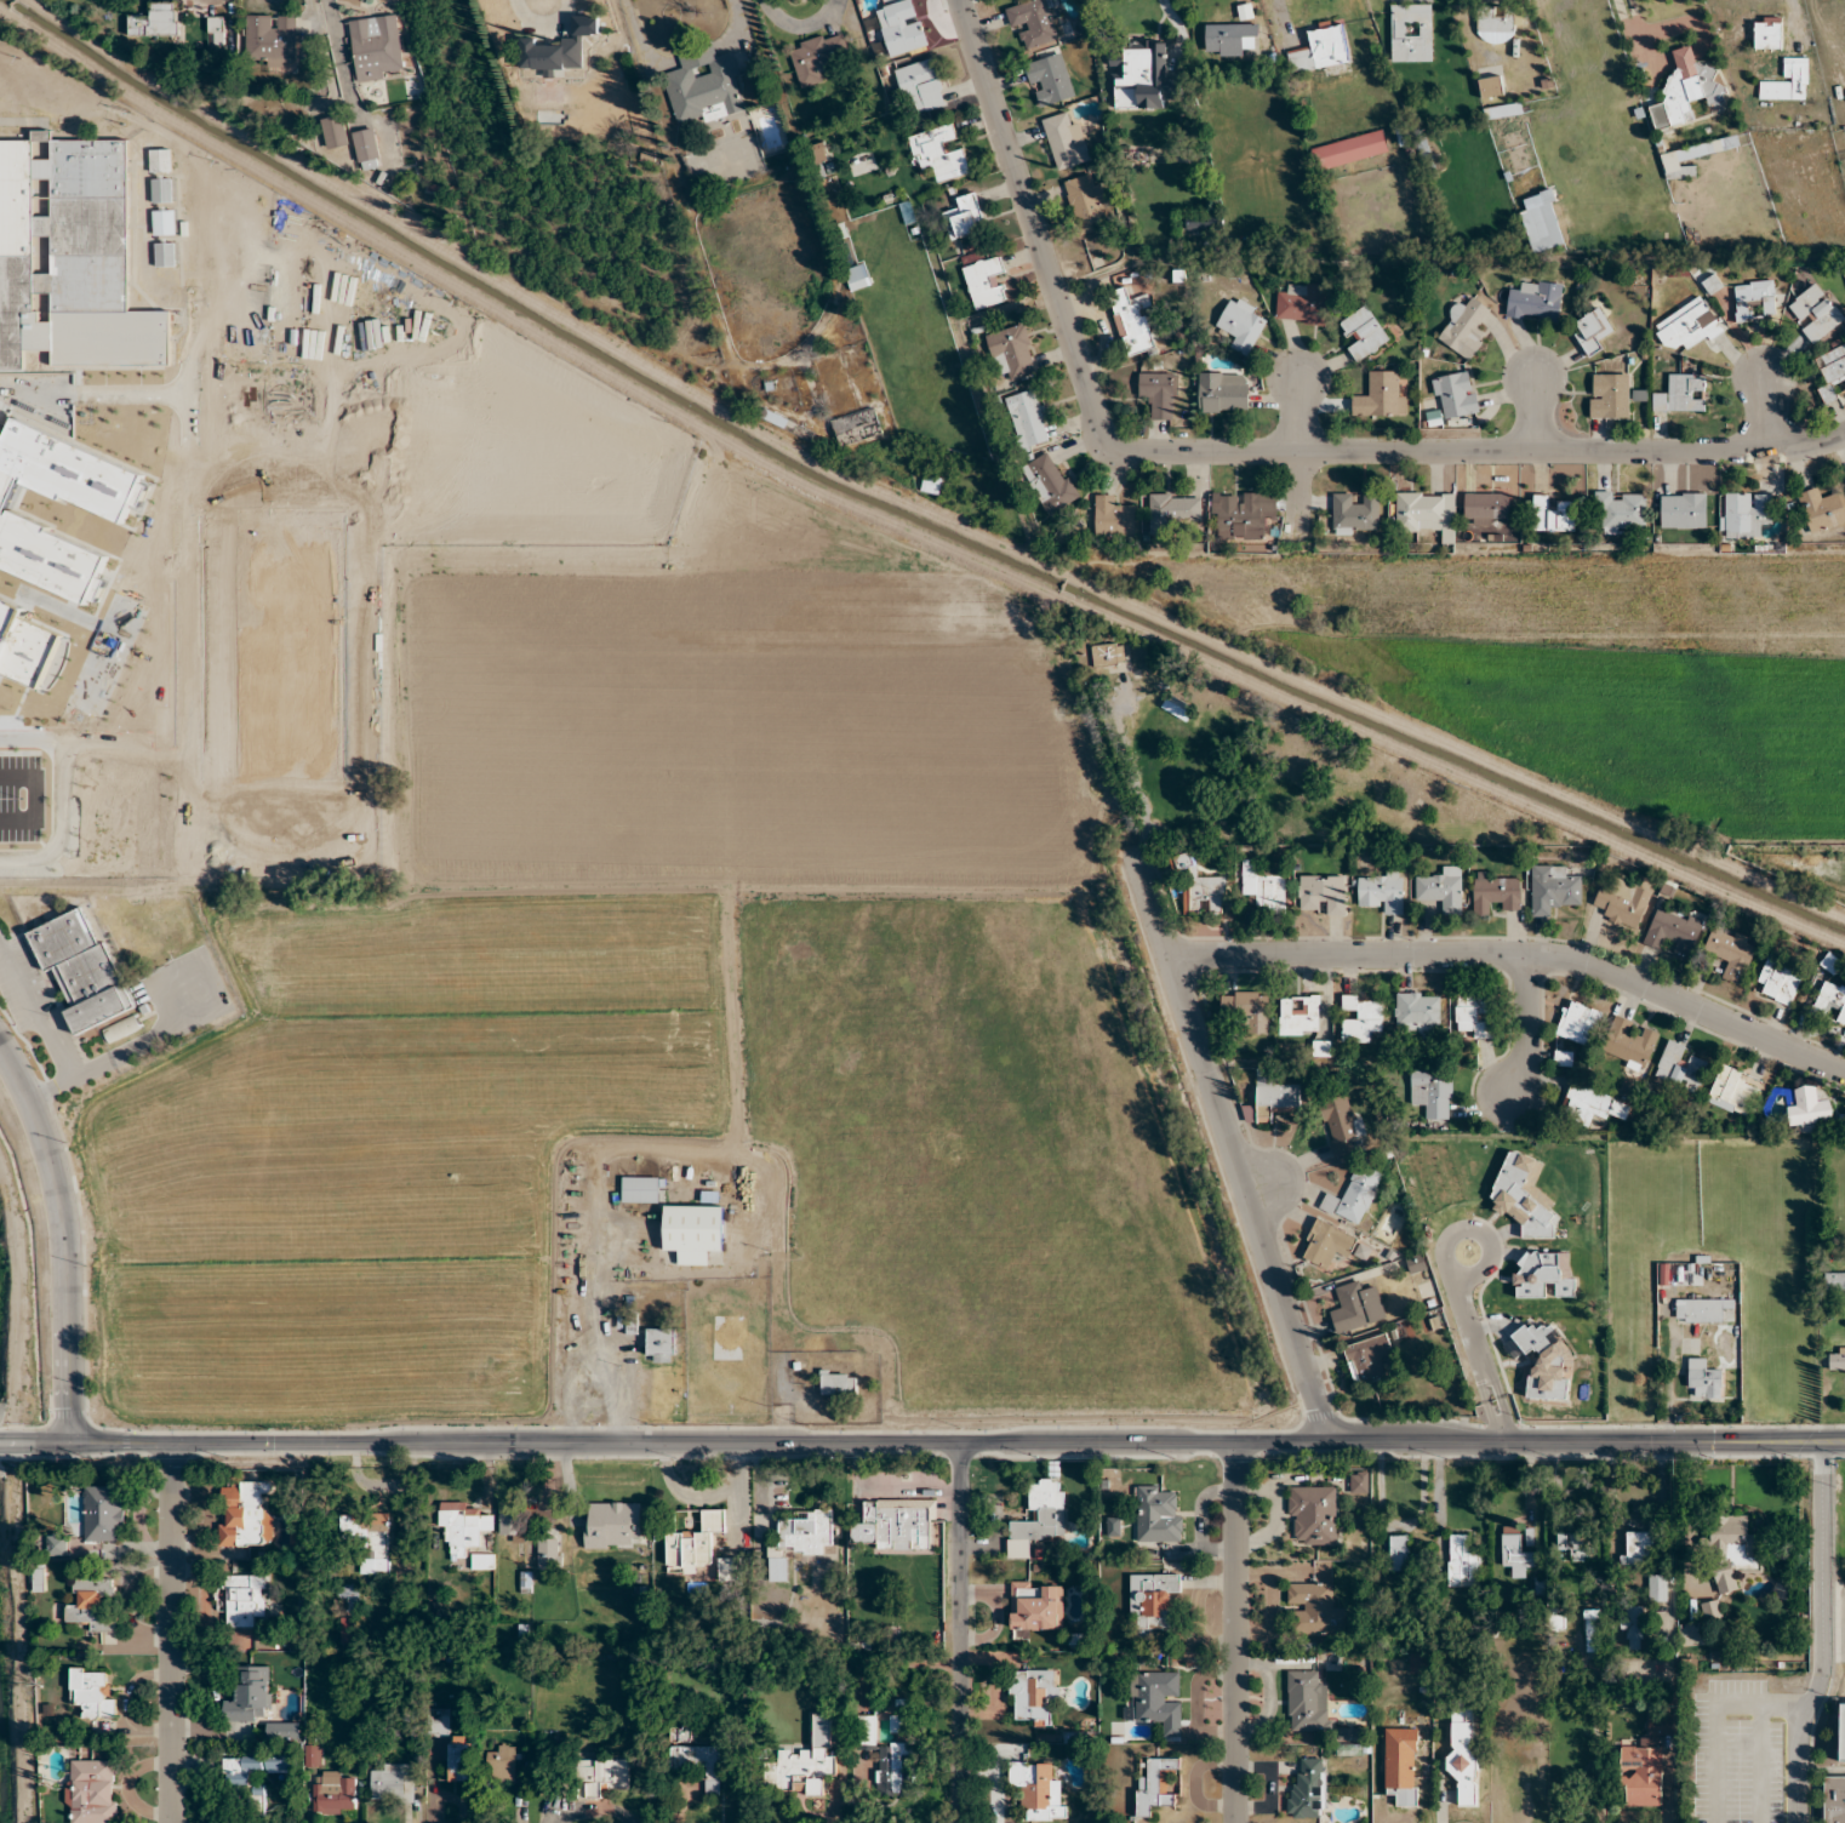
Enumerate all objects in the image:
building: (155, 21)
building: (1034, 22)
building: (1495, 24)
building: (216, 29)
building: (899, 30)
building: (1411, 33)
building: (1767, 33)
building: (270, 39)
building: (1229, 39)
road: (1636, 45)
building: (376, 47)
building: (559, 48)
building: (1320, 48)
building: (818, 52)
building: (1142, 75)
building: (1050, 79)
building: (1787, 82)
building: (704, 85)
building: (921, 85)
building: (1689, 85)
building: (1491, 87)
building: (1504, 110)
building: (335, 132)
building: (1403, 133)
building: (1066, 141)
building: (366, 149)
building: (1349, 150)
building: (821, 153)
building: (939, 153)
building: (160, 160)
building: (1686, 160)
building: (221, 188)
building: (190, 189)
building: (161, 190)
building: (1086, 202)
building: (967, 217)
building: (193, 221)
building: (222, 221)
building: (1204, 221)
building: (164, 222)
building: (1541, 223)
building: (193, 253)
building: (165, 255)
building: (70, 257)
building: (857, 276)
building: (986, 284)
building: (1712, 284)
building: (1754, 299)
building: (1535, 301)
building: (1302, 304)
building: (1815, 313)
building: (1132, 321)
building: (1687, 322)
building: (1241, 324)
building: (1464, 327)
building: (1592, 331)
building: (1364, 333)
building: (1012, 352)
building: (1833, 366)
building: (1223, 392)
building: (1160, 394)
building: (1380, 394)
building: (1681, 394)
building: (1455, 395)
building: (1609, 396)
road: (1301, 411)
road: (1761, 411)
road: (1531, 412)
building: (1028, 418)
building: (778, 421)
building: (857, 427)
road: (1243, 451)
park: (161, 465)
park: (199, 465)
park: (234, 465)
park: (269, 467)
building: (1844, 481)
building: (1050, 482)
building: (930, 485)
road: (1300, 495)
road: (912, 508)
building: (1486, 508)
building: (1175, 509)
building: (1821, 509)
building: (1620, 510)
building: (1683, 510)
building: (1420, 512)
building: (1243, 514)
building: (1355, 514)
building: (1553, 514)
building: (1746, 514)
building: (1113, 516)
road: (898, 525)
building: (1108, 655)
building: (1177, 708)
road: (1135, 782)
building: (1263, 887)
building: (1553, 888)
building: (1201, 890)
building: (1441, 890)
building: (1382, 891)
building: (1496, 892)
building: (1321, 895)
building: (1621, 902)
building: (1672, 932)
road: (1516, 953)
building: (1730, 953)
building: (81, 968)
building: (1780, 982)
building: (1832, 1000)
building: (1247, 1010)
building: (1417, 1013)
building: (1300, 1015)
building: (1474, 1015)
building: (1361, 1018)
road: (1524, 1023)
building: (1577, 1023)
building: (120, 1029)
building: (1626, 1044)
building: (1680, 1067)
building: (1732, 1091)
building: (1432, 1093)
building: (1775, 1098)
building: (1270, 1099)
building: (1593, 1104)
building: (1341, 1124)
road: (1230, 1147)
building: (641, 1189)
building: (1524, 1196)
building: (1353, 1198)
road: (1472, 1227)
building: (693, 1233)
road: (67, 1238)
building: (1327, 1245)
building: (1416, 1263)
building: (1543, 1274)
road: (596, 1278)
building: (1834, 1281)
building: (1356, 1307)
building: (1702, 1309)
building: (627, 1322)
road: (1467, 1324)
road: (1670, 1341)
building: (661, 1345)
building: (1837, 1359)
building: (1367, 1360)
building: (1546, 1362)
road: (1481, 1370)
building: (1703, 1379)
road: (607, 1383)
building: (838, 1385)
road: (921, 1442)
building: (1358, 1482)
building: (103, 1514)
building: (242, 1514)
building: (1156, 1515)
building: (1313, 1515)
building: (1038, 1519)
building: (512, 1520)
building: (901, 1524)
building: (612, 1525)
building: (463, 1528)
building: (1735, 1532)
building: (806, 1533)
building: (369, 1542)
building: (56, 1544)
building: (693, 1544)
building: (1575, 1545)
building: (1638, 1547)
building: (1515, 1551)
building: (549, 1554)
building: (1407, 1558)
building: (482, 1561)
building: (1462, 1562)
building: (730, 1568)
building: (777, 1568)
building: (1725, 1578)
building: (1657, 1588)
building: (244, 1599)
building: (1152, 1600)
building: (92, 1605)
building: (1036, 1605)
building: (1314, 1610)
building: (1712, 1610)
building: (349, 1613)
building: (1632, 1628)
road: (21, 1633)
road: (958, 1633)
road: (1233, 1633)
building: (1592, 1633)
road: (1823, 1633)
road: (171, 1634)
building: (1416, 1663)
building: (91, 1693)
building: (1033, 1695)
building: (250, 1696)
building: (1154, 1698)
building: (1306, 1703)
road: (1714, 1715)
building: (439, 1721)
building: (1658, 1725)
building: (1841, 1733)
building: (1463, 1758)
building: (459, 1759)
building: (885, 1759)
building: (698, 1762)
building: (804, 1762)
building: (502, 1764)
building: (1401, 1765)
building: (241, 1776)
building: (1641, 1776)
building: (600, 1777)
building: (392, 1783)
building: (1156, 1785)
building: (1038, 1790)
building: (91, 1791)
building: (1307, 1791)
building: (335, 1795)
building: (1834, 1800)

